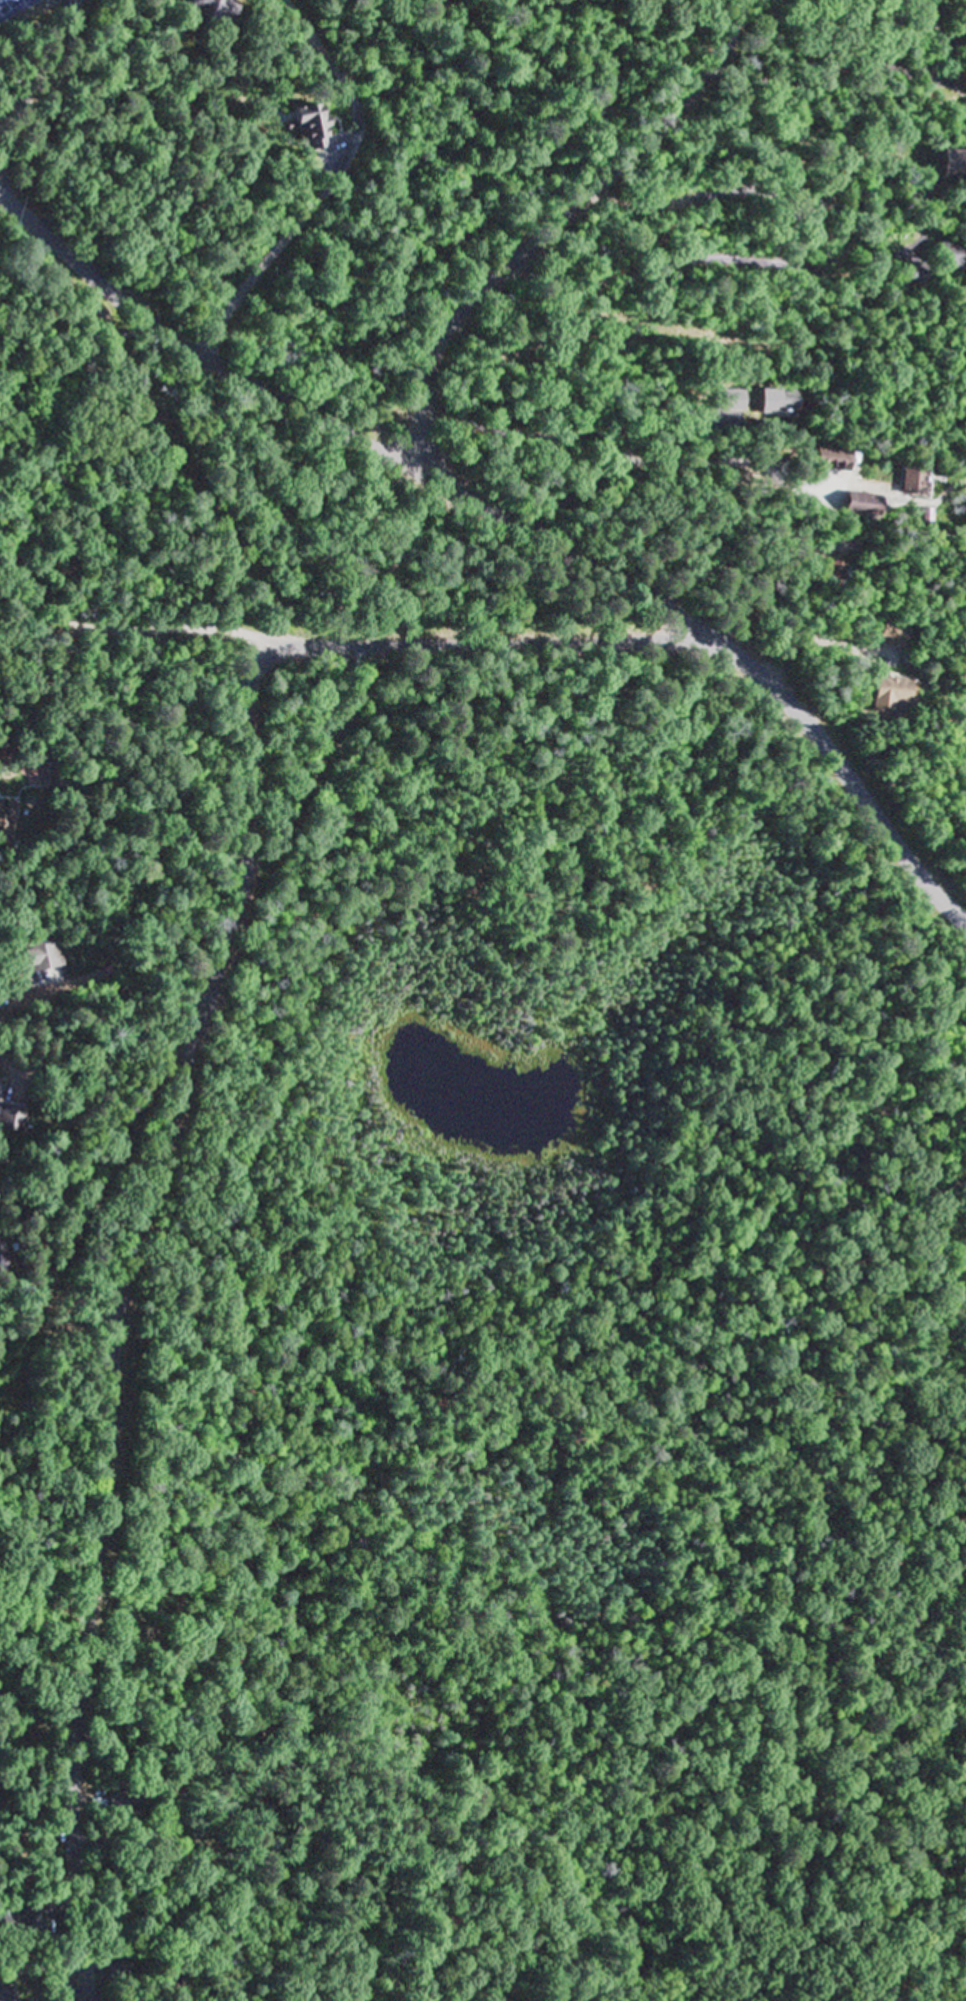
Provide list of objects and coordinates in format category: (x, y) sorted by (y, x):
park: (22, 11)
building: (212, 11)
road: (38, 72)
building: (965, 111)
building: (312, 122)
building: (948, 164)
road: (552, 225)
building: (950, 256)
building: (729, 402)
building: (769, 403)
road: (334, 423)
road: (669, 436)
building: (828, 459)
building: (847, 504)
building: (830, 574)
building: (887, 696)
road: (838, 769)
building: (7, 822)
building: (36, 957)
road: (171, 1117)
building: (15, 1118)
park: (920, 1365)
building: (14, 1922)
building: (10, 1994)

